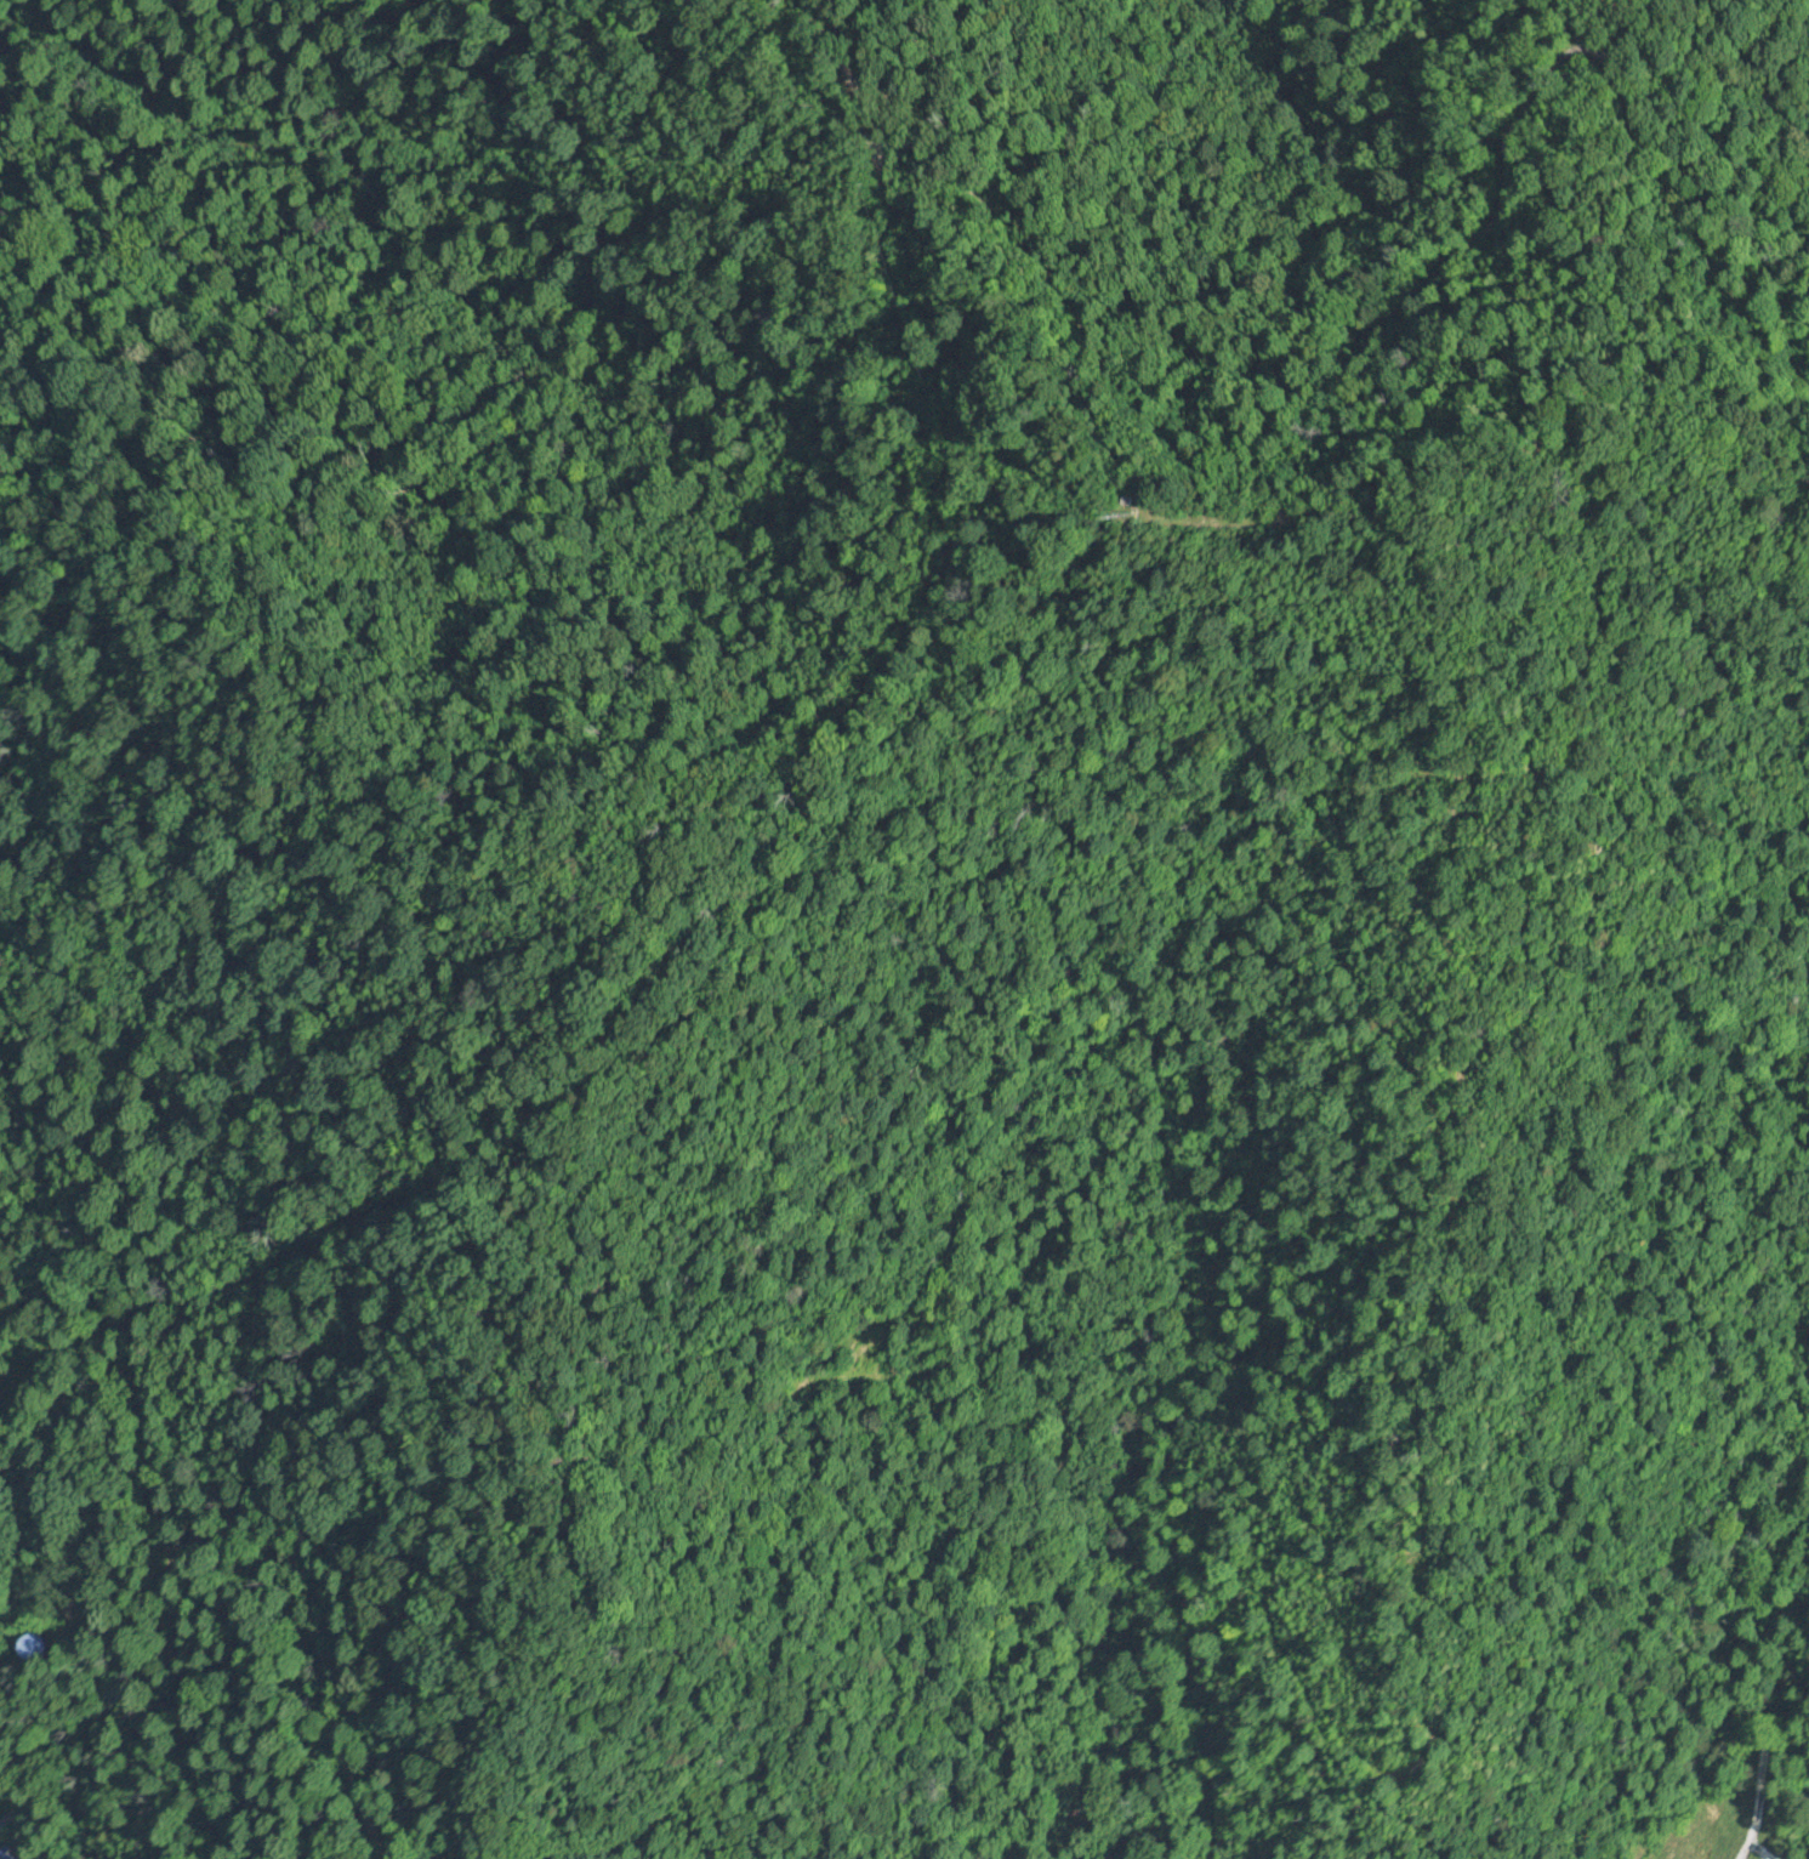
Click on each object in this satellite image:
building: (35, 1648)
building: (6, 1857)

